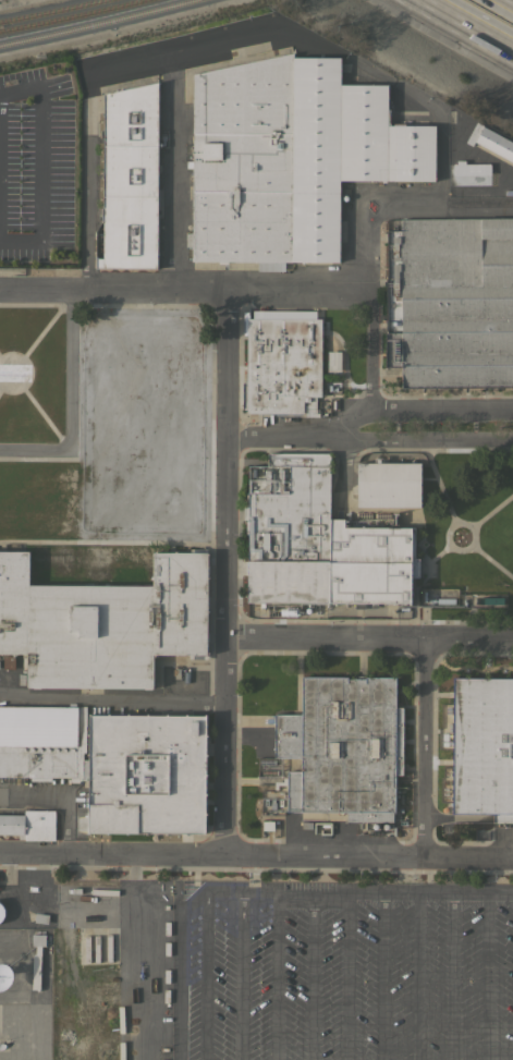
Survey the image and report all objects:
railway: (54, 12)
railway: (77, 19)
railway: (96, 23)
road: (465, 27)
road: (141, 59)
road: (415, 96)
building: (491, 141)
road: (478, 155)
building: (289, 158)
road: (41, 161)
building: (471, 168)
building: (130, 178)
road: (476, 210)
road: (185, 289)
road: (298, 289)
building: (414, 302)
building: (475, 303)
road: (369, 349)
building: (282, 362)
road: (70, 369)
road: (412, 406)
road: (368, 436)
road: (57, 450)
building: (388, 484)
road: (442, 487)
road: (492, 510)
road: (472, 526)
park: (471, 532)
fountain: (461, 533)
building: (318, 541)
road: (439, 552)
road: (492, 560)
building: (103, 621)
road: (370, 636)
road: (227, 643)
road: (113, 696)
road: (427, 746)
building: (483, 747)
building: (341, 750)
building: (114, 763)
road: (64, 791)
building: (29, 825)
road: (256, 856)
road: (221, 890)
road: (427, 892)
road: (308, 899)
building: (1, 912)
building: (36, 959)
parking lot: (343, 971)
road: (240, 975)
road: (381, 976)
road: (417, 976)
road: (452, 976)
road: (486, 976)
road: (204, 978)
road: (310, 979)
road: (345, 980)
road: (273, 983)

